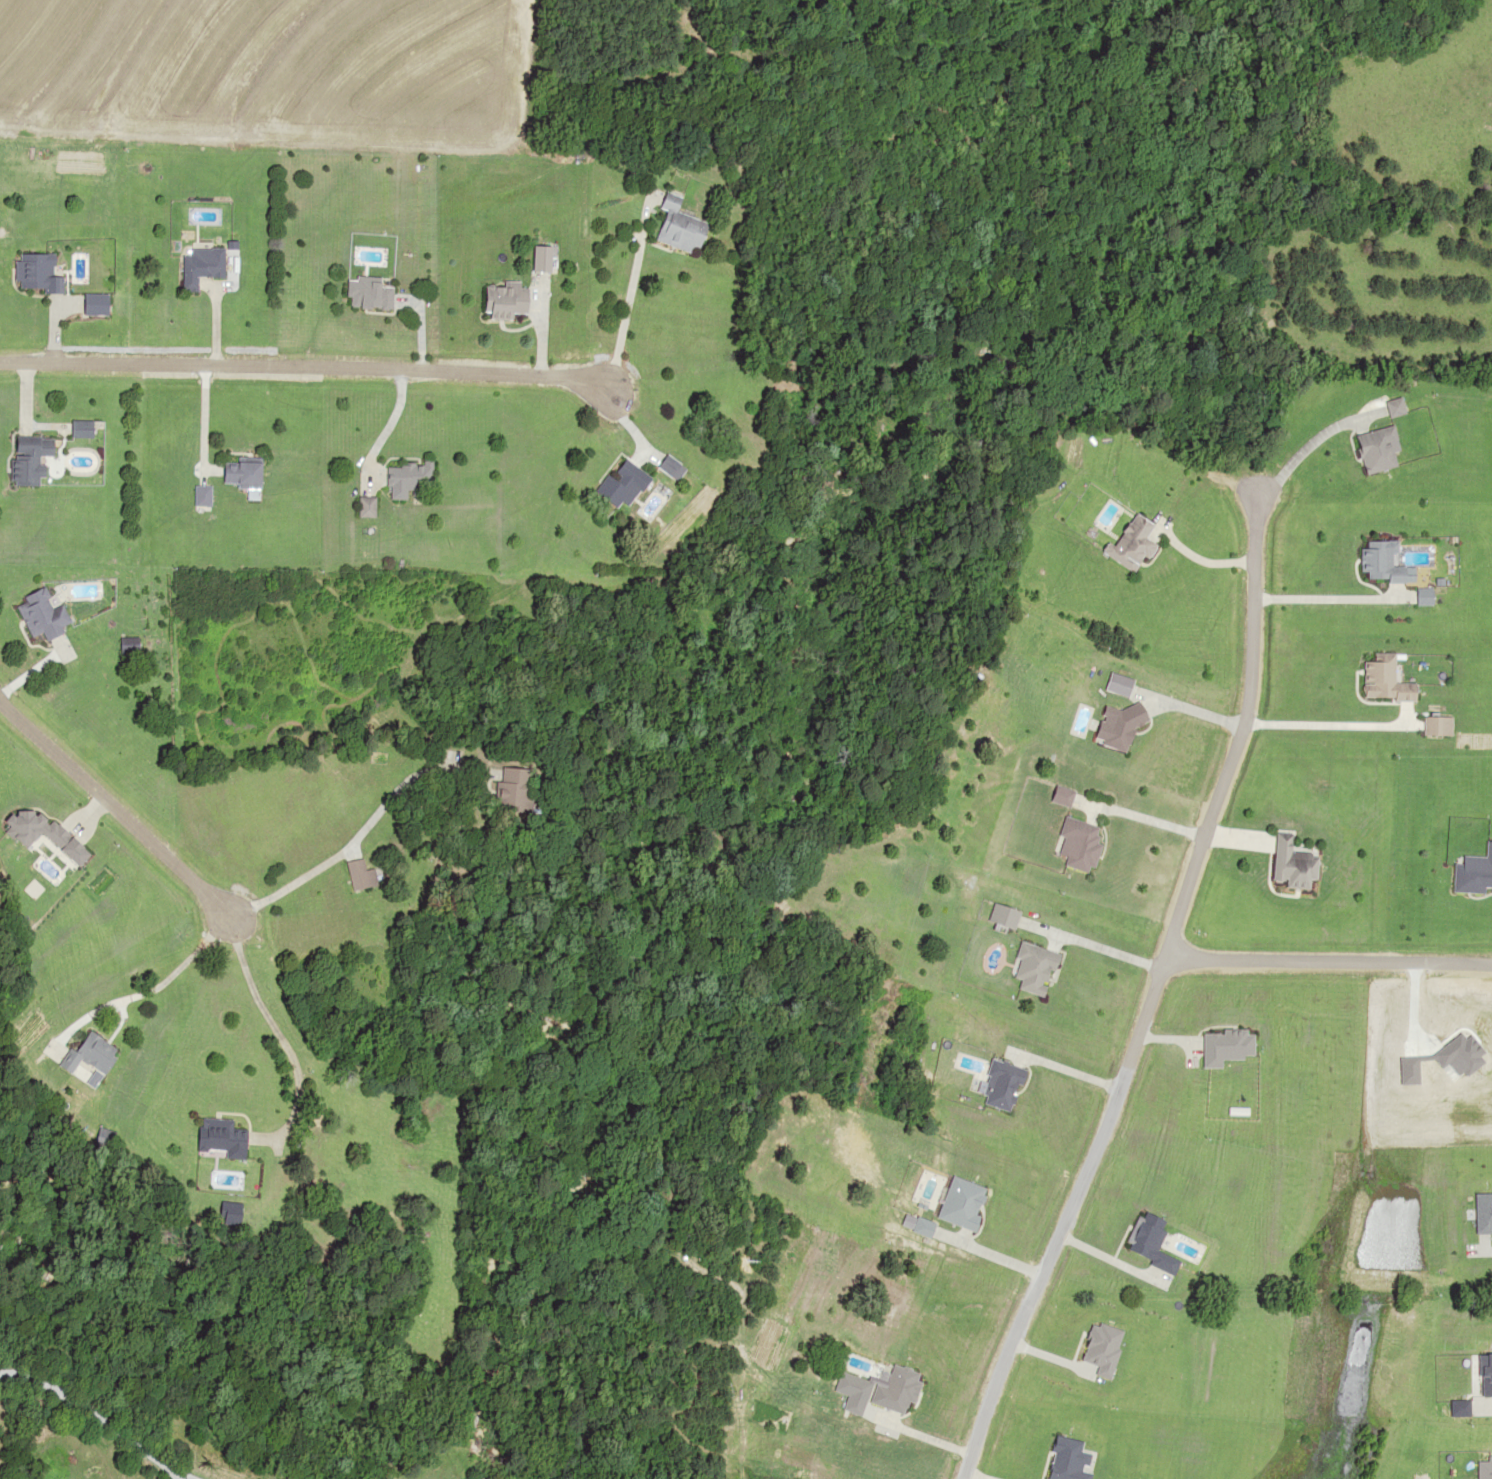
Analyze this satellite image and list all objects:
building: (672, 227)
building: (533, 259)
building: (200, 266)
building: (32, 274)
building: (365, 293)
building: (498, 300)
road: (121, 307)
road: (262, 318)
building: (1389, 408)
building: (76, 429)
building: (1371, 450)
building: (23, 459)
building: (236, 474)
building: (402, 480)
building: (612, 484)
building: (198, 496)
building: (361, 507)
building: (1132, 541)
building: (1376, 561)
building: (38, 615)
building: (1380, 680)
building: (1431, 727)
road: (207, 748)
building: (500, 791)
building: (35, 830)
building: (1075, 845)
building: (1289, 864)
building: (357, 875)
building: (998, 915)
building: (1029, 967)
building: (84, 1052)
building: (213, 1136)
building: (222, 1212)

